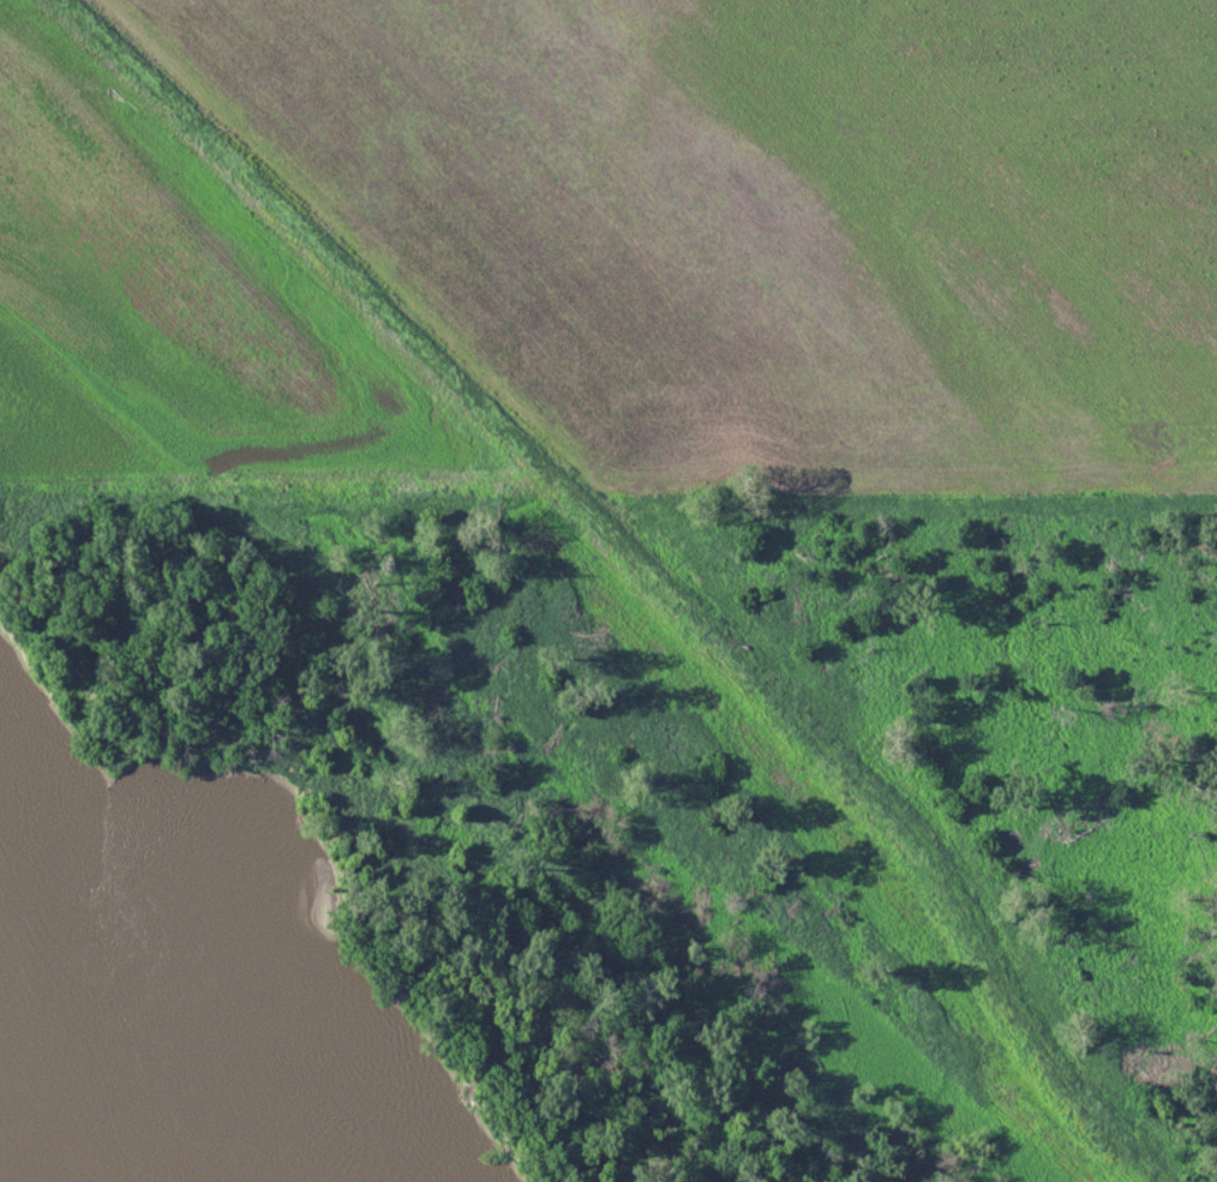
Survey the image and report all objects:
river: (48, 1135)

